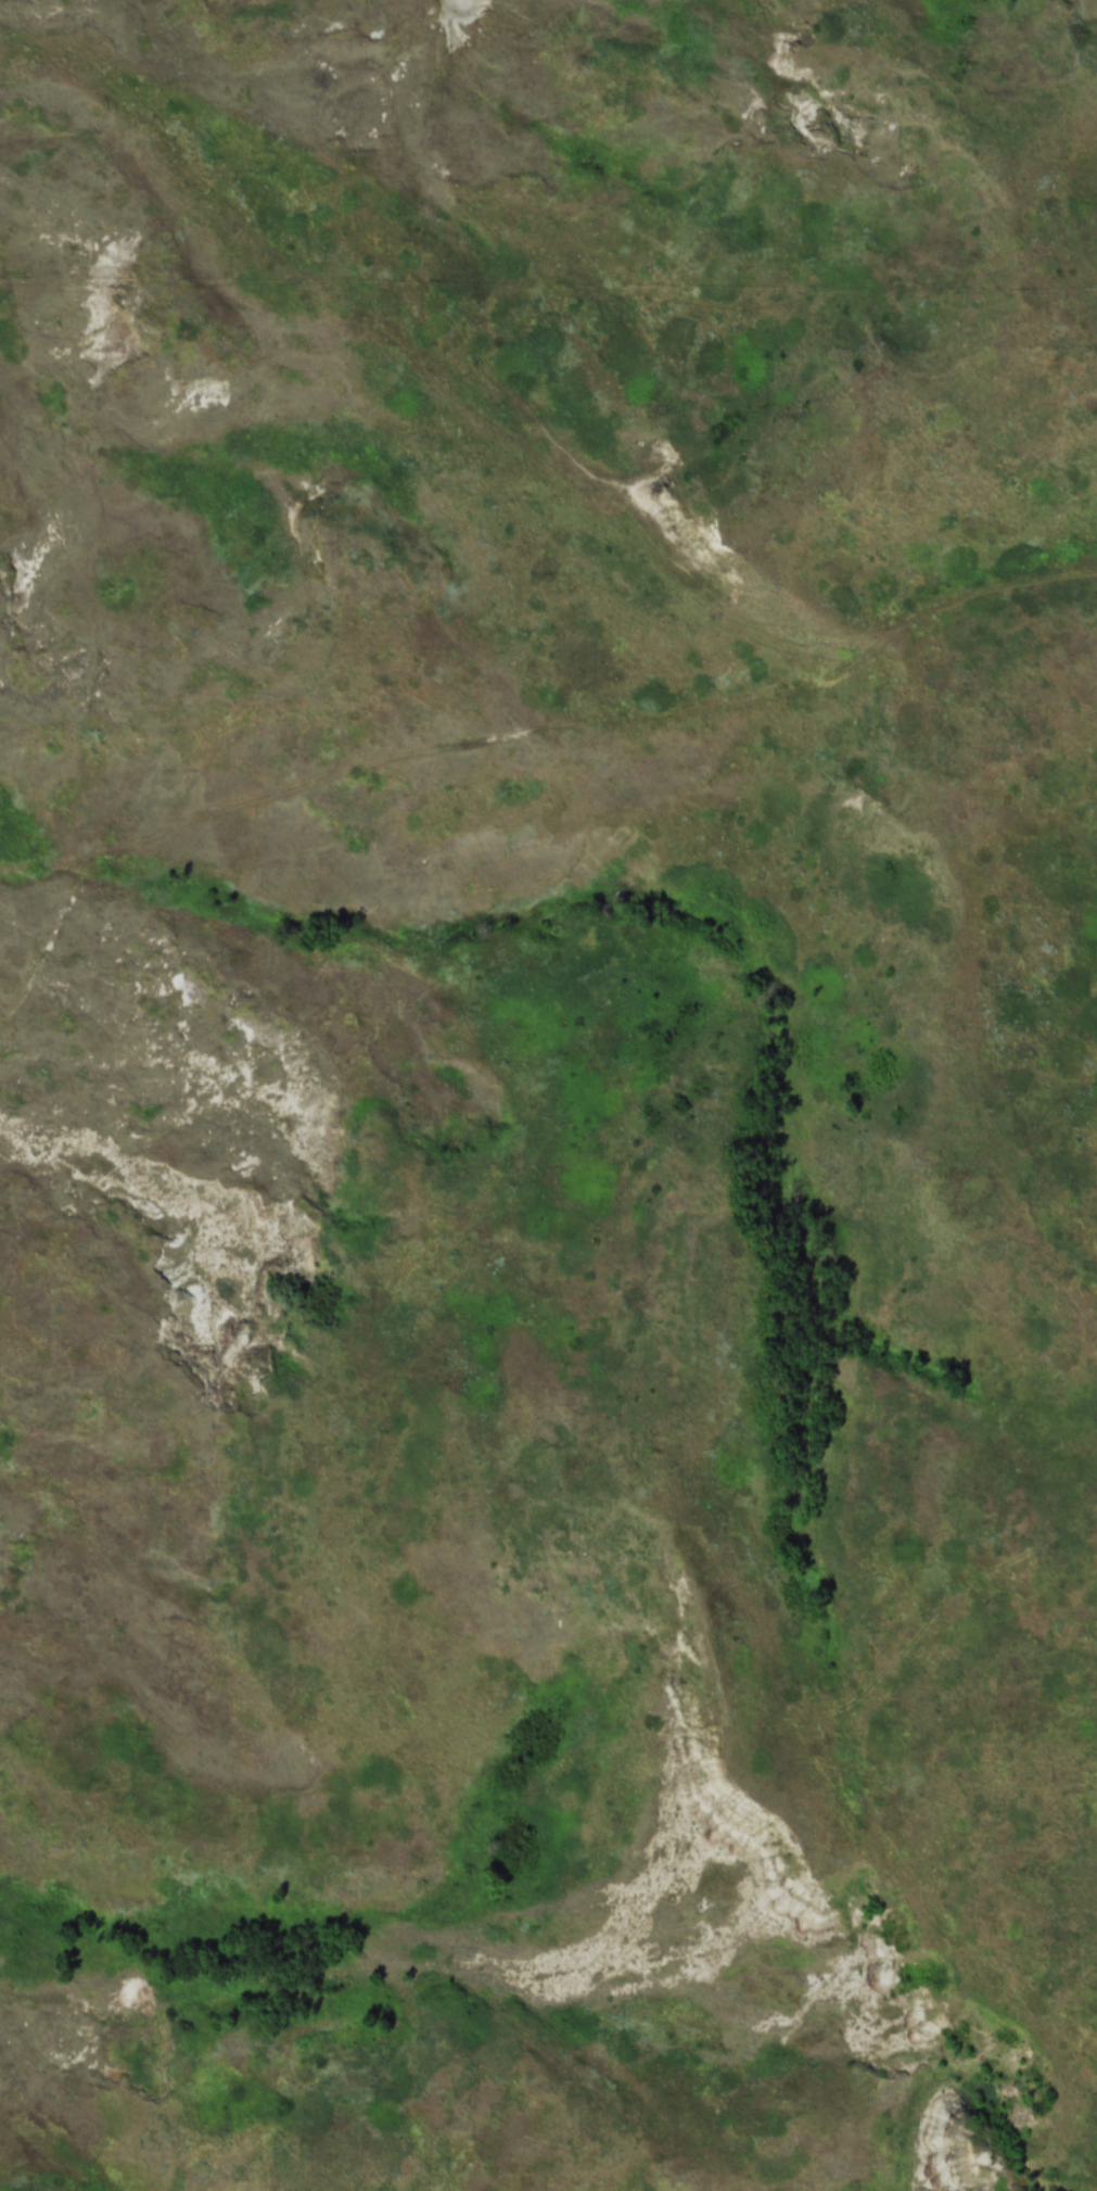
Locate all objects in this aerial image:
road: (511, 736)

